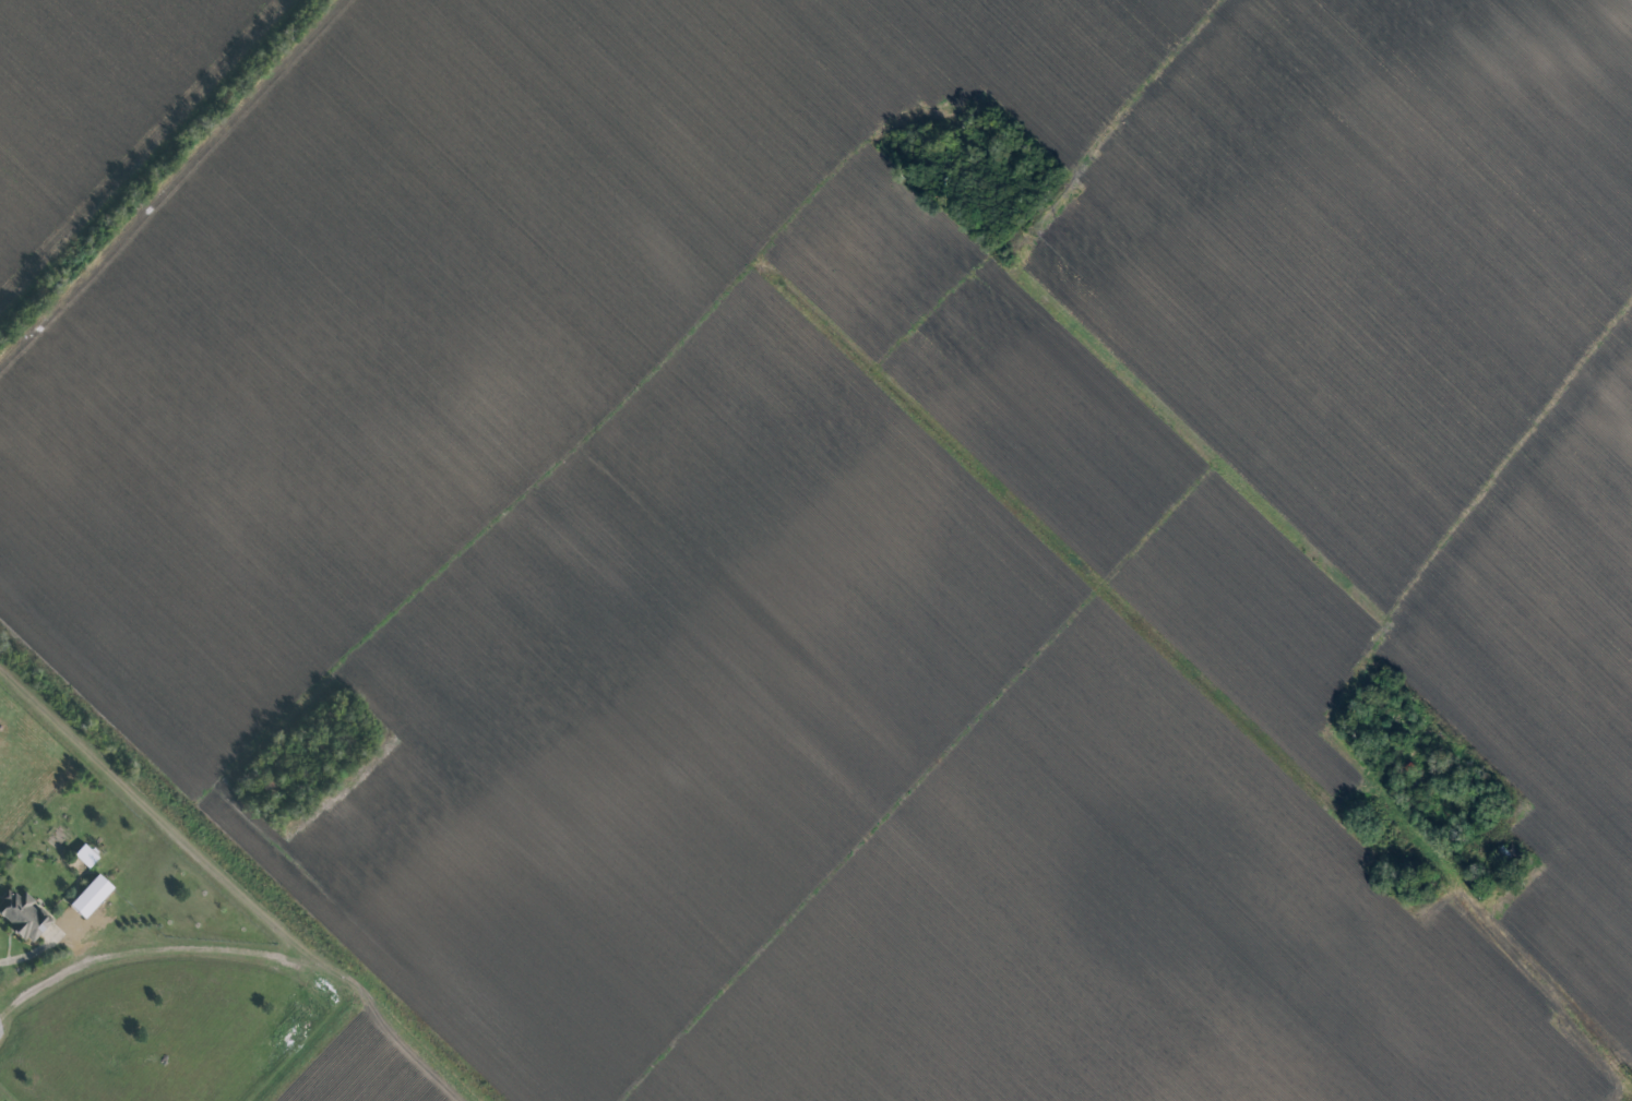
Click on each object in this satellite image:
building: (86, 854)
building: (92, 895)
building: (24, 914)
road: (26, 957)
road: (191, 960)

